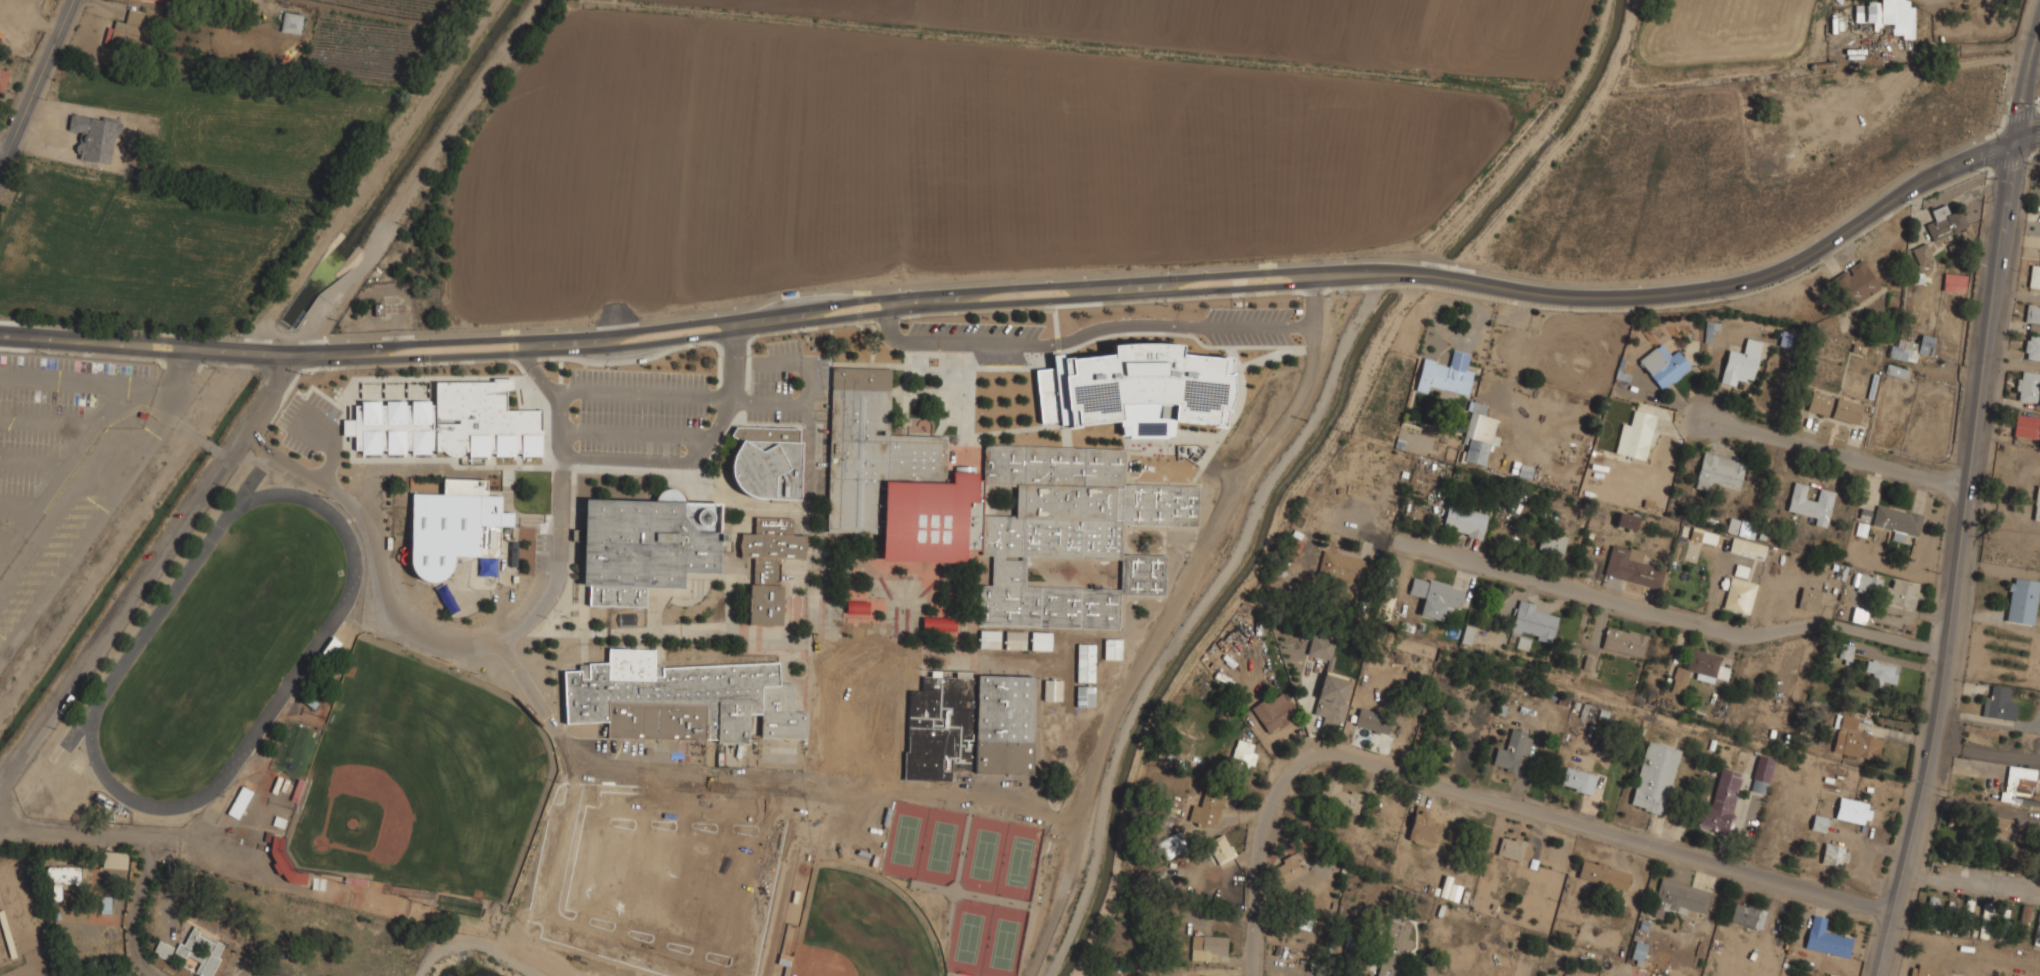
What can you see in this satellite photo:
building: (167, 1)
building: (1887, 15)
building: (291, 22)
building: (124, 30)
building: (3, 78)
road: (36, 82)
road: (2027, 90)
building: (1773, 128)
road: (2027, 141)
building: (124, 143)
road: (3, 149)
road: (367, 177)
road: (1885, 206)
building: (1944, 223)
building: (1921, 255)
building: (2034, 277)
road: (1265, 279)
building: (1954, 283)
building: (1854, 284)
road: (880, 297)
road: (938, 300)
street lamp: (1731, 301)
road: (1104, 302)
road: (859, 309)
road: (882, 313)
parking lot: (1248, 314)
building: (2032, 314)
road: (784, 317)
road: (889, 318)
street lamp: (906, 320)
road: (1105, 327)
parking lot: (1317, 328)
parking lot: (983, 329)
road: (806, 330)
road: (1094, 338)
parking lot: (1247, 339)
road: (732, 342)
road: (1056, 343)
road: (509, 345)
road: (161, 346)
parking lot: (783, 346)
building: (1911, 348)
building: (2032, 348)
road: (648, 358)
building: (1741, 363)
building: (1224, 364)
building: (1663, 366)
road: (559, 370)
building: (1894, 371)
street lamp: (297, 374)
building: (1446, 374)
road: (537, 376)
parking lot: (772, 376)
road: (86, 378)
street lamp: (780, 383)
building: (1107, 383)
building: (2028, 386)
building: (1268, 387)
road: (730, 389)
parking lot: (771, 389)
building: (1200, 389)
road: (723, 397)
road: (744, 401)
road: (1238, 406)
building: (1834, 408)
parking lot: (638, 409)
road: (740, 418)
building: (1219, 418)
building: (448, 421)
road: (49, 422)
building: (1143, 422)
parking lot: (306, 423)
road: (1282, 425)
road: (804, 426)
building: (2026, 427)
parking lot: (53, 432)
road: (634, 433)
building: (1478, 434)
building: (1635, 435)
road: (333, 447)
road: (701, 449)
road: (1835, 450)
road: (1125, 455)
parking lot: (820, 459)
road: (35, 462)
building: (767, 462)
road: (804, 462)
road: (1203, 463)
road: (683, 471)
building: (1718, 472)
road: (65, 473)
road: (1195, 476)
road: (21, 503)
road: (66, 504)
building: (1810, 504)
building: (2037, 505)
road: (101, 507)
building: (991, 508)
building: (1464, 521)
building: (1626, 521)
building: (1897, 522)
building: (453, 525)
building: (1740, 528)
building: (1703, 536)
road: (1382, 537)
road: (7, 542)
building: (1551, 545)
building: (645, 546)
building: (1748, 547)
road: (1957, 562)
building: (769, 566)
building: (1631, 567)
building: (1343, 570)
building: (1740, 570)
road: (146, 577)
building: (1868, 584)
building: (1901, 594)
building: (1739, 595)
building: (1435, 597)
building: (1808, 599)
building: (2021, 601)
building: (1385, 603)
building: (857, 607)
road: (1198, 610)
building: (1858, 615)
road: (1689, 618)
building: (1533, 622)
building: (938, 623)
building: (1468, 633)
building: (988, 638)
building: (1234, 638)
building: (1014, 639)
building: (1040, 640)
building: (1624, 641)
road: (451, 644)
building: (1321, 647)
building: (1112, 648)
park: (219, 651)
building: (1845, 653)
track: (307, 656)
building: (1084, 662)
building: (1588, 663)
building: (1698, 669)
building: (1111, 672)
building: (1881, 673)
building: (1051, 689)
building: (1083, 695)
building: (681, 699)
building: (1331, 700)
building: (1998, 704)
building: (1274, 711)
road: (1113, 715)
building: (925, 721)
building: (1372, 721)
building: (1053, 724)
building: (1855, 740)
building: (1512, 751)
building: (1052, 755)
building: (1242, 755)
building: (1761, 774)
road: (694, 775)
park: (423, 777)
building: (1654, 777)
building: (1578, 780)
building: (2020, 786)
road: (1489, 793)
building: (1338, 796)
building: (239, 802)
building: (1721, 802)
building: (1852, 811)
building: (1206, 812)
building: (1819, 823)
building: (1422, 828)
parking lot: (852, 829)
road: (71, 835)
park: (903, 840)
building: (1171, 845)
park: (939, 846)
building: (1220, 849)
building: (1513, 849)
building: (1833, 853)
park: (982, 855)
building: (114, 860)
park: (1019, 861)
building: (1287, 869)
building: (1603, 875)
road: (1971, 881)
building: (1679, 898)
building: (104, 904)
road: (135, 910)
building: (2024, 913)
building: (1747, 916)
park: (862, 928)
park: (968, 936)
building: (1826, 939)
park: (1003, 942)
building: (1393, 946)
road: (488, 947)
building: (1207, 947)
building: (162, 950)
building: (201, 951)
building: (1638, 951)
building: (1922, 971)

